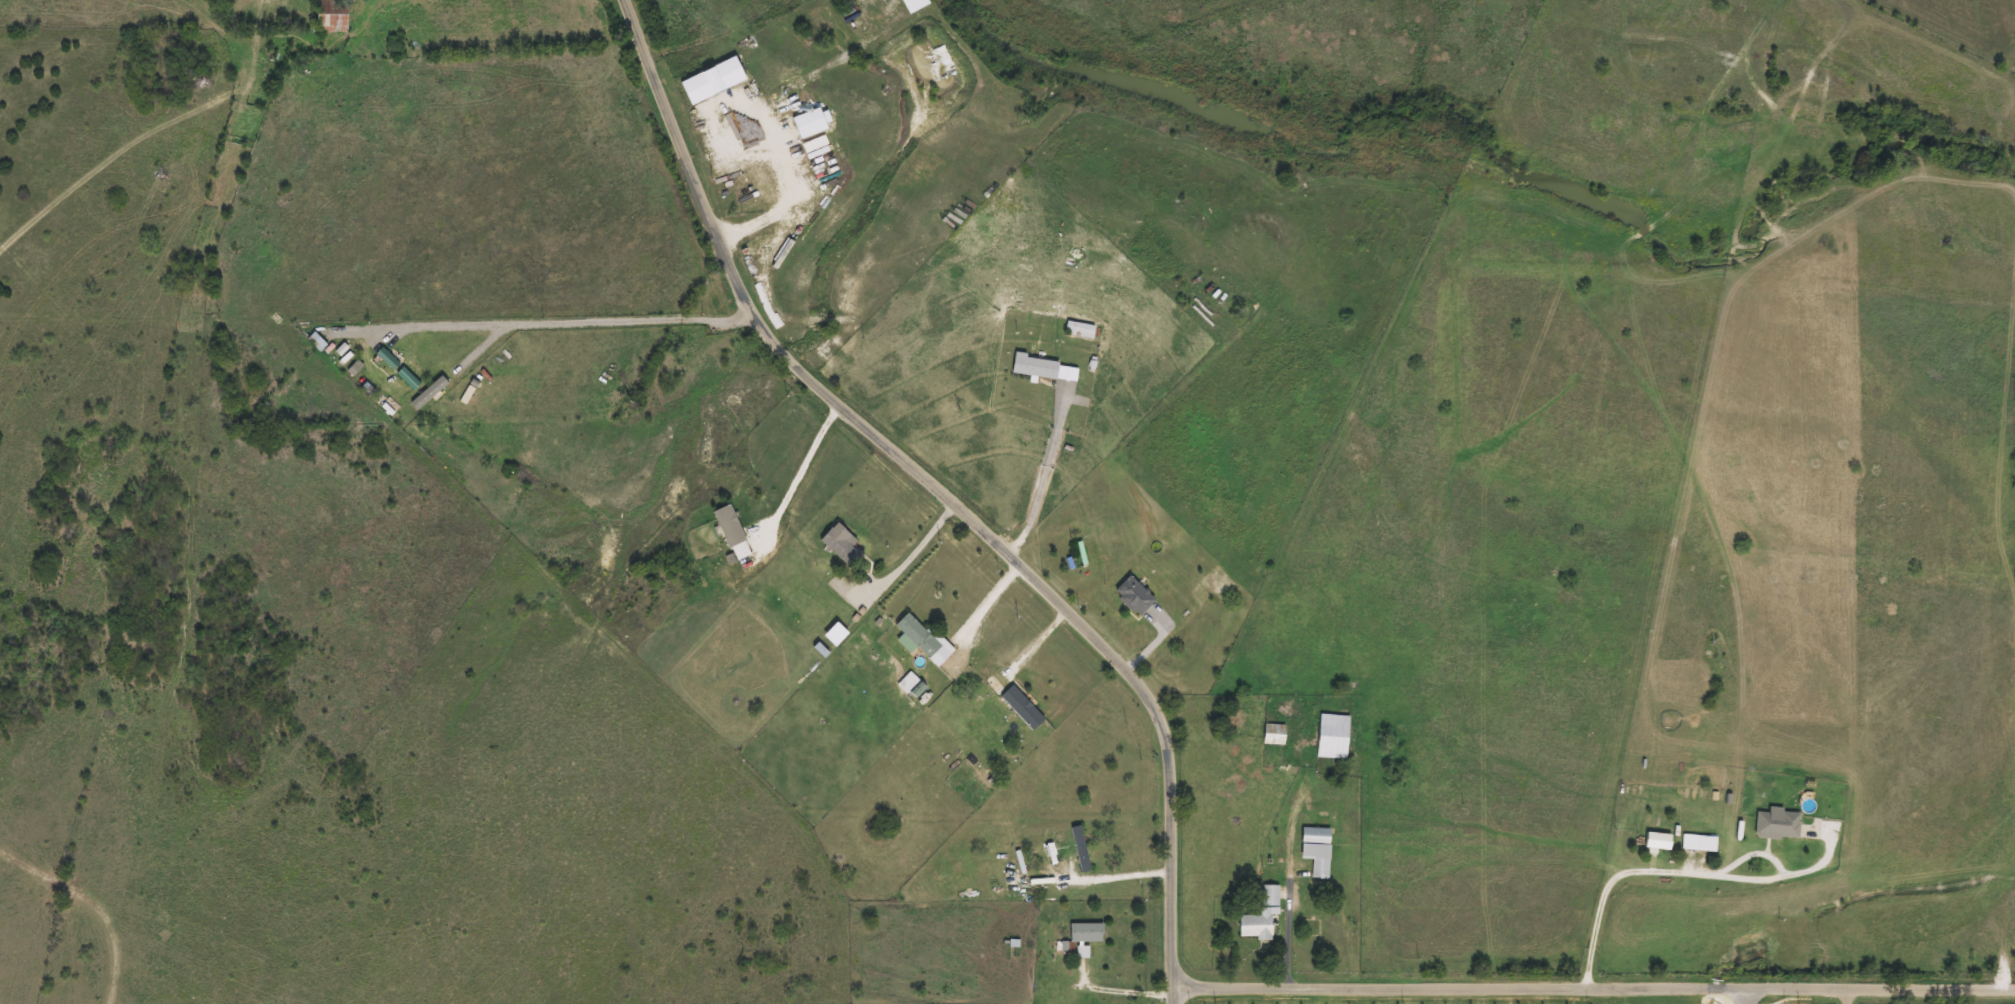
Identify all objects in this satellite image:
building: (910, 4)
building: (328, 16)
building: (783, 104)
building: (805, 124)
building: (816, 158)
road: (778, 183)
road: (541, 323)
building: (314, 342)
building: (1033, 368)
road: (1044, 465)
road: (801, 466)
road: (944, 494)
building: (730, 533)
building: (839, 545)
road: (918, 546)
building: (1131, 596)
road: (986, 600)
building: (917, 640)
building: (1020, 708)
building: (1271, 735)
building: (1330, 736)
building: (1654, 840)
building: (1696, 843)
building: (1314, 850)
road: (1677, 868)
road: (1121, 876)
road: (1285, 911)
building: (1257, 916)
building: (1084, 932)
road: (1595, 992)
road: (1742, 997)
road: (1842, 998)

